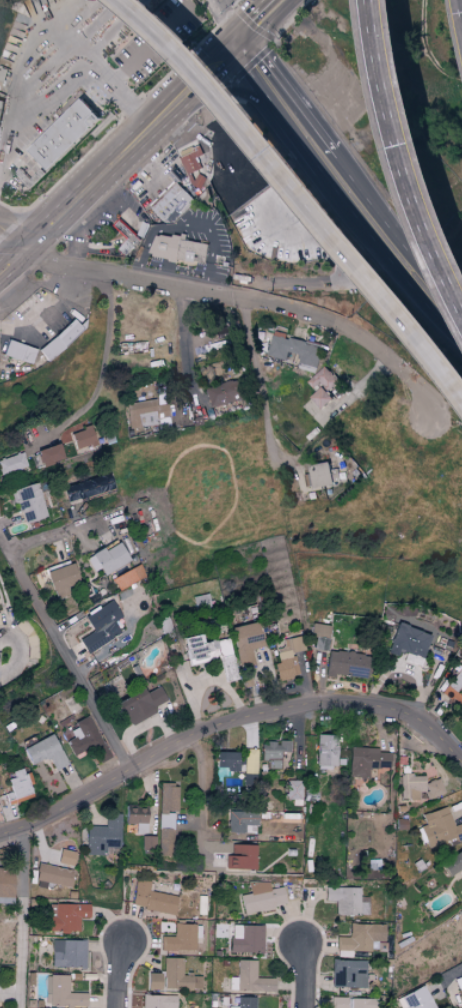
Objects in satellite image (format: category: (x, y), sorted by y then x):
road: (260, 22)
road: (221, 23)
road: (64, 30)
traffic signals: (237, 44)
road: (132, 64)
road: (54, 95)
road: (283, 103)
building: (1, 107)
building: (67, 134)
road: (414, 148)
road: (120, 158)
building: (200, 180)
road: (305, 188)
road: (107, 190)
building: (173, 202)
road: (126, 212)
road: (190, 222)
road: (71, 228)
road: (87, 228)
building: (128, 235)
road: (12, 238)
road: (394, 245)
building: (176, 246)
road: (115, 250)
power tower: (275, 293)
road: (248, 296)
road: (186, 338)
building: (61, 340)
building: (297, 349)
building: (18, 352)
road: (105, 356)
building: (324, 386)
road: (262, 388)
road: (361, 390)
building: (225, 392)
building: (145, 413)
building: (83, 438)
building: (50, 455)
building: (12, 463)
building: (323, 474)
building: (88, 487)
building: (29, 502)
road: (49, 533)
road: (1, 544)
building: (108, 558)
building: (60, 577)
building: (128, 577)
building: (201, 601)
building: (101, 626)
building: (319, 635)
building: (409, 641)
building: (246, 642)
building: (211, 653)
road: (20, 654)
road: (63, 655)
building: (287, 657)
building: (347, 664)
building: (453, 687)
building: (141, 703)
building: (460, 705)
road: (234, 717)
building: (82, 737)
building: (325, 750)
building: (45, 751)
building: (273, 752)
building: (226, 760)
building: (250, 761)
building: (366, 761)
building: (17, 785)
building: (417, 786)
building: (293, 791)
road: (199, 795)
building: (456, 812)
building: (137, 817)
building: (166, 817)
building: (241, 821)
building: (438, 830)
building: (104, 836)
building: (148, 842)
building: (66, 857)
building: (241, 857)
building: (452, 863)
building: (53, 876)
building: (6, 885)
building: (262, 897)
building: (152, 899)
building: (346, 900)
road: (14, 915)
building: (66, 916)
building: (361, 937)
building: (180, 938)
building: (245, 938)
building: (68, 953)
building: (348, 973)
road: (453, 973)
road: (111, 976)
building: (178, 976)
road: (299, 976)
building: (249, 978)
building: (154, 981)
building: (459, 985)
building: (62, 993)
building: (416, 999)
building: (158, 1001)
building: (245, 1002)
building: (352, 1002)

